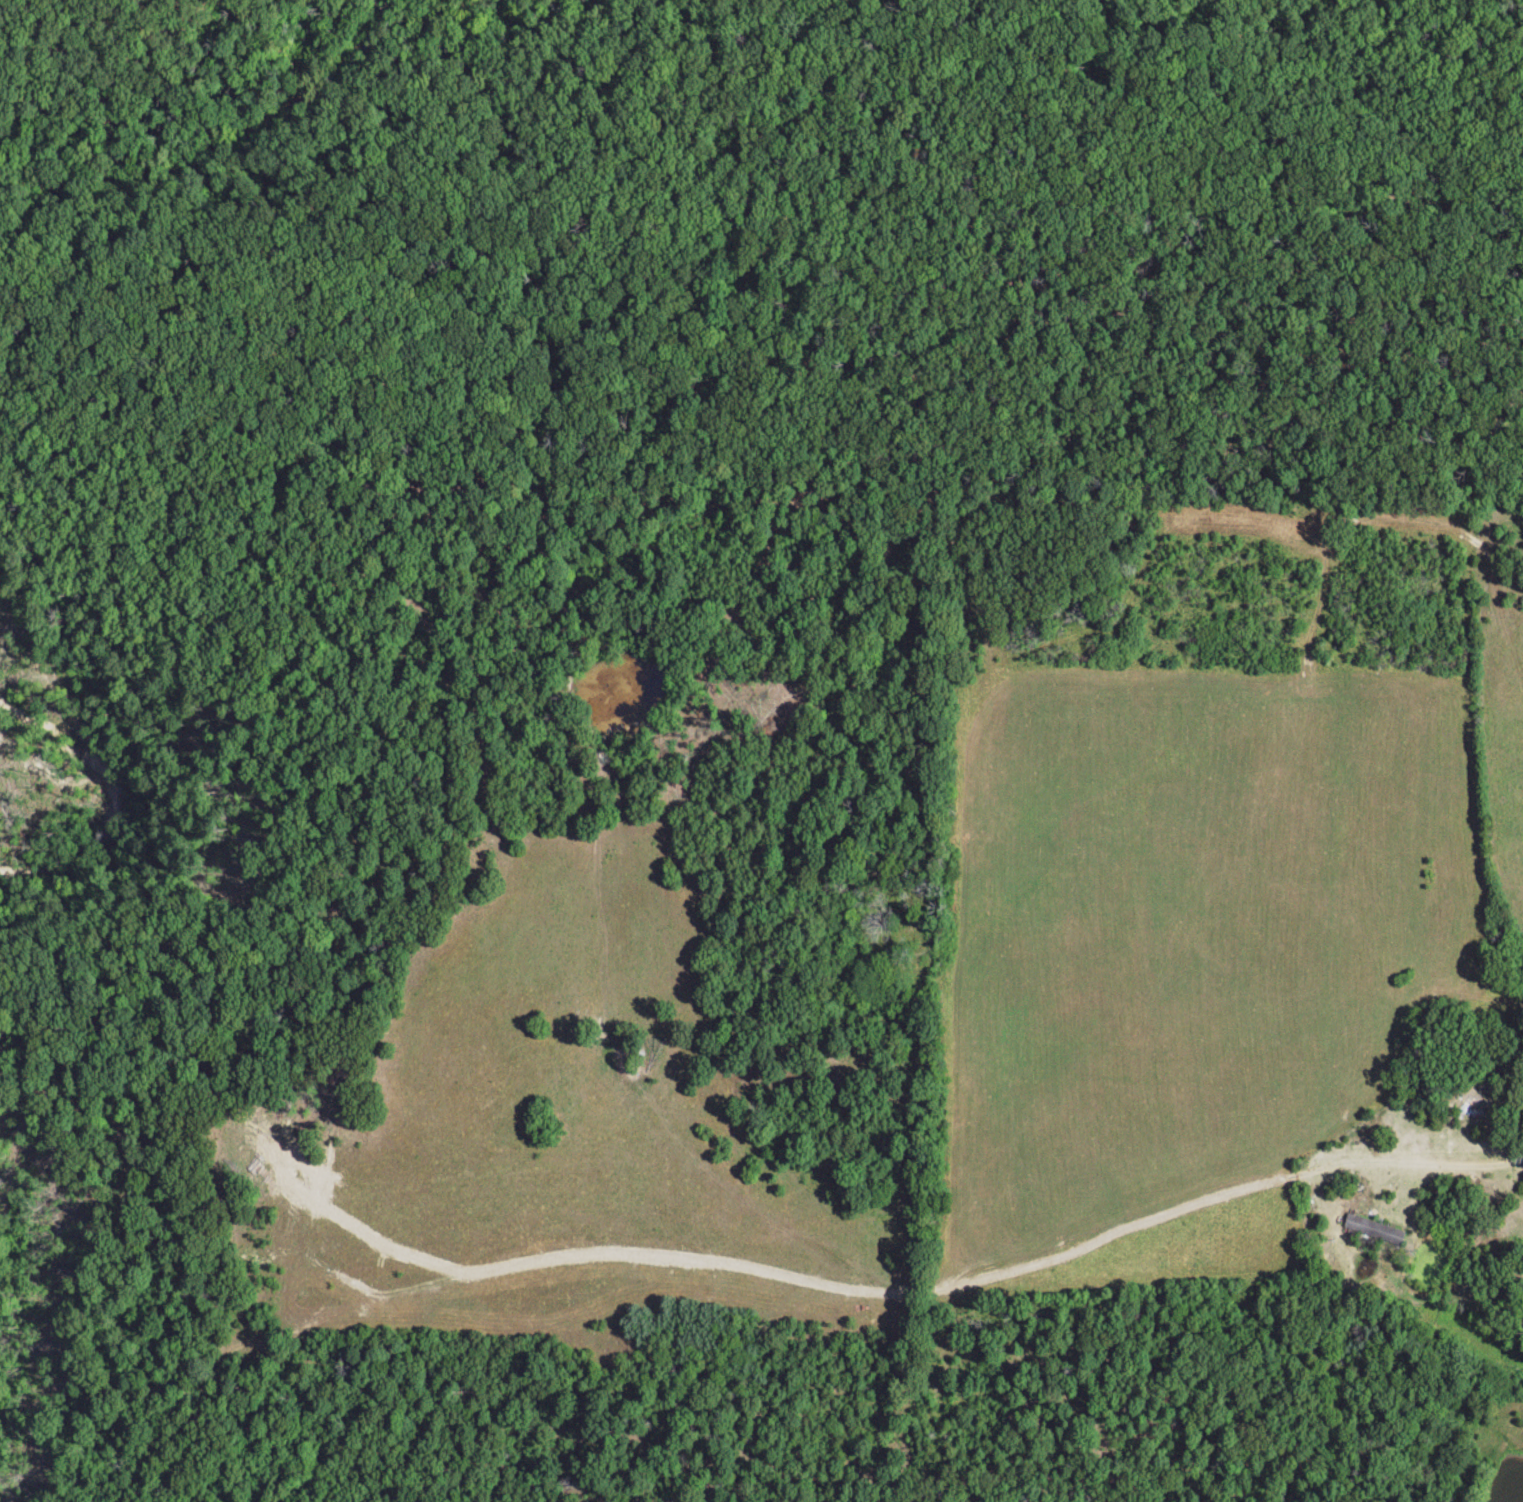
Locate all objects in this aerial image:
building: (1379, 1228)
road: (784, 1280)

